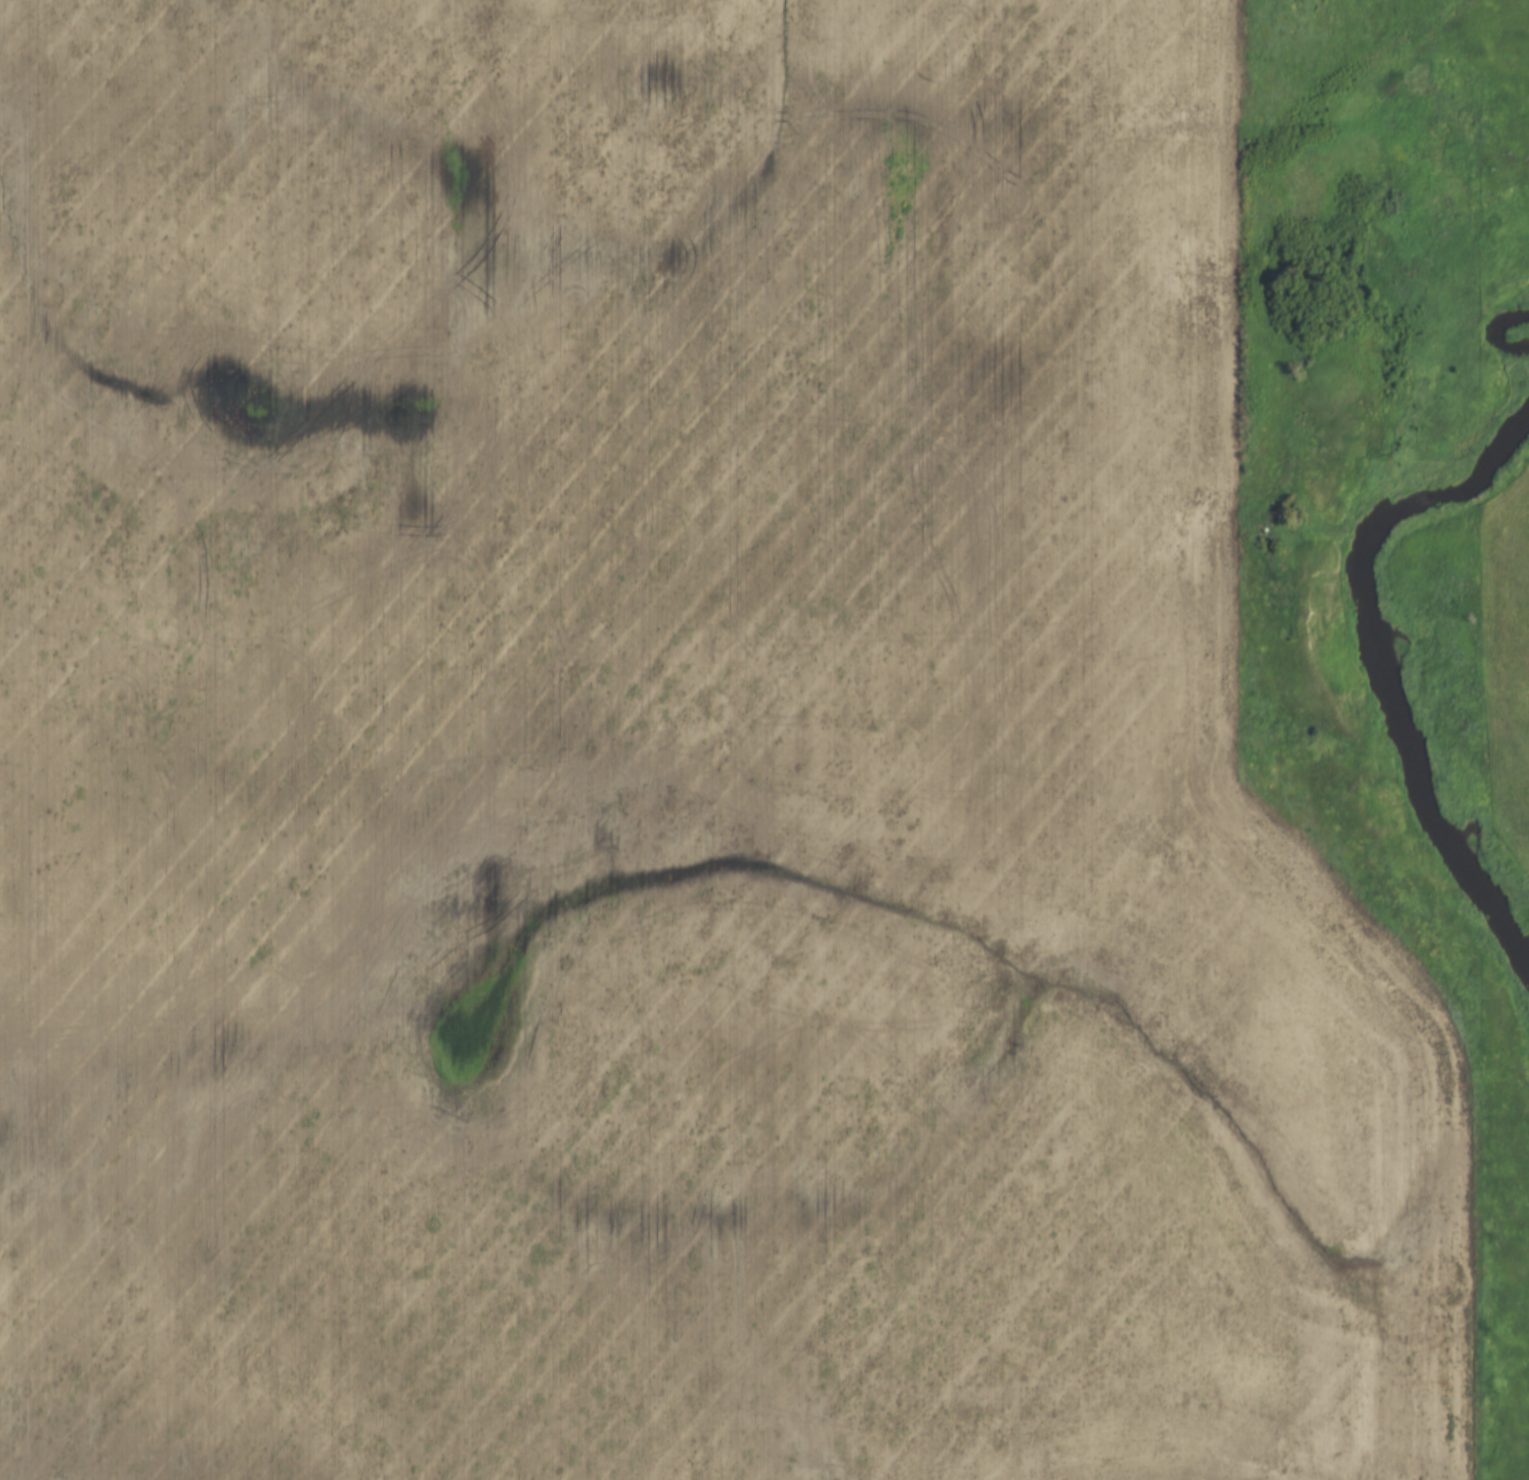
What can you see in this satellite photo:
river: (1479, 335)
river: (1369, 665)

